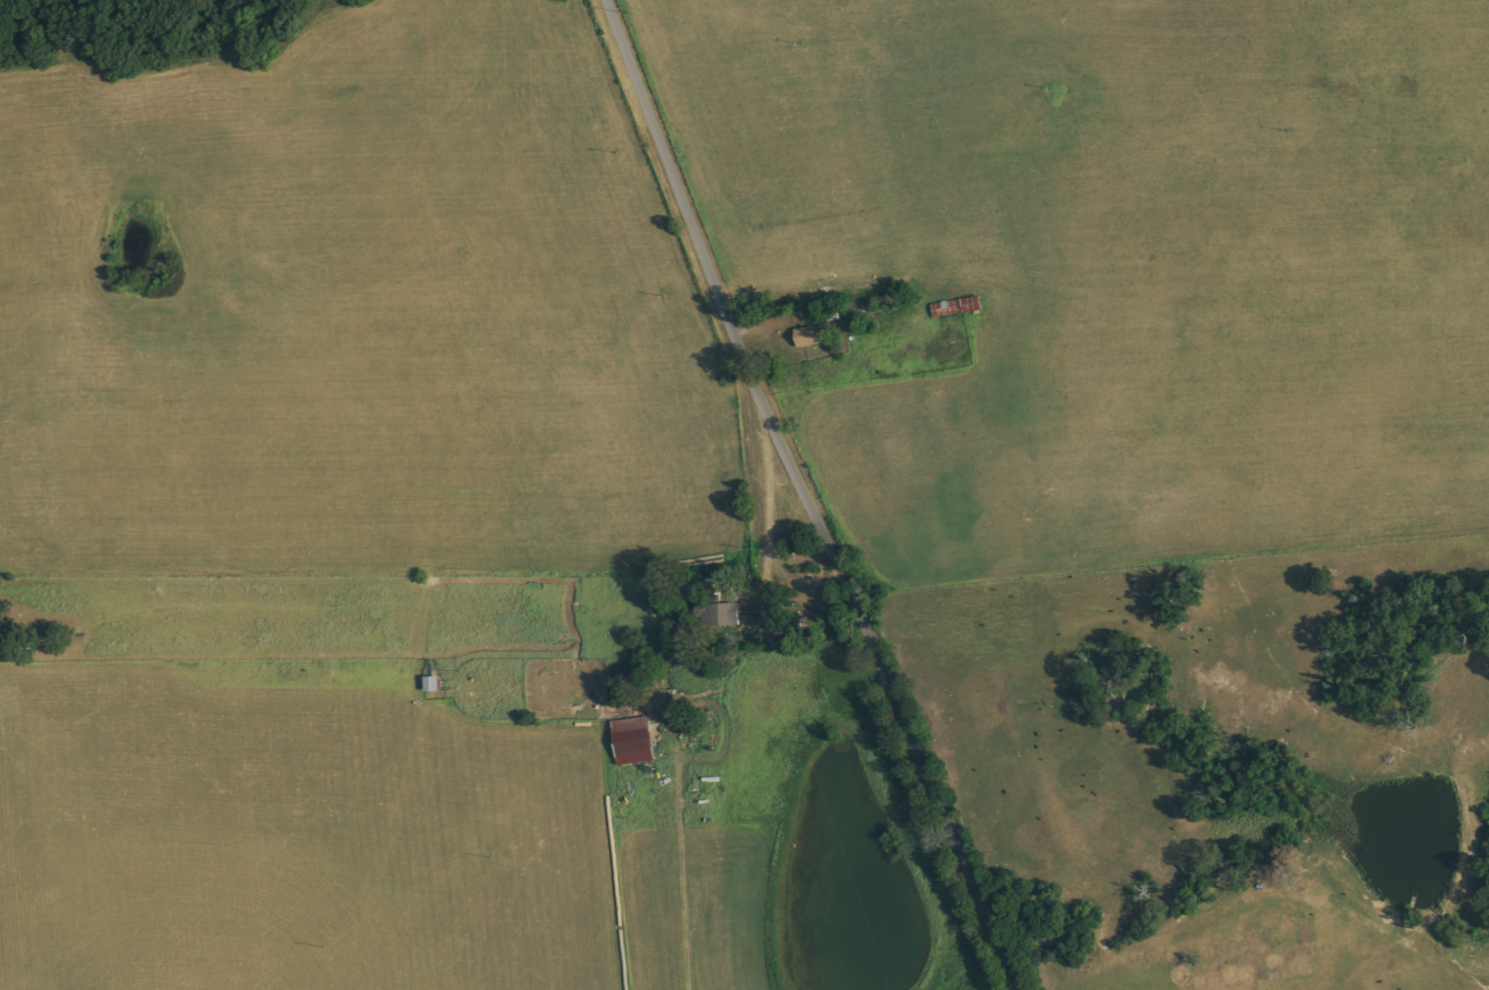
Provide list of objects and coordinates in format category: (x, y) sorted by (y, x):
building: (956, 307)
building: (812, 336)
road: (805, 498)
building: (723, 614)
building: (634, 741)

